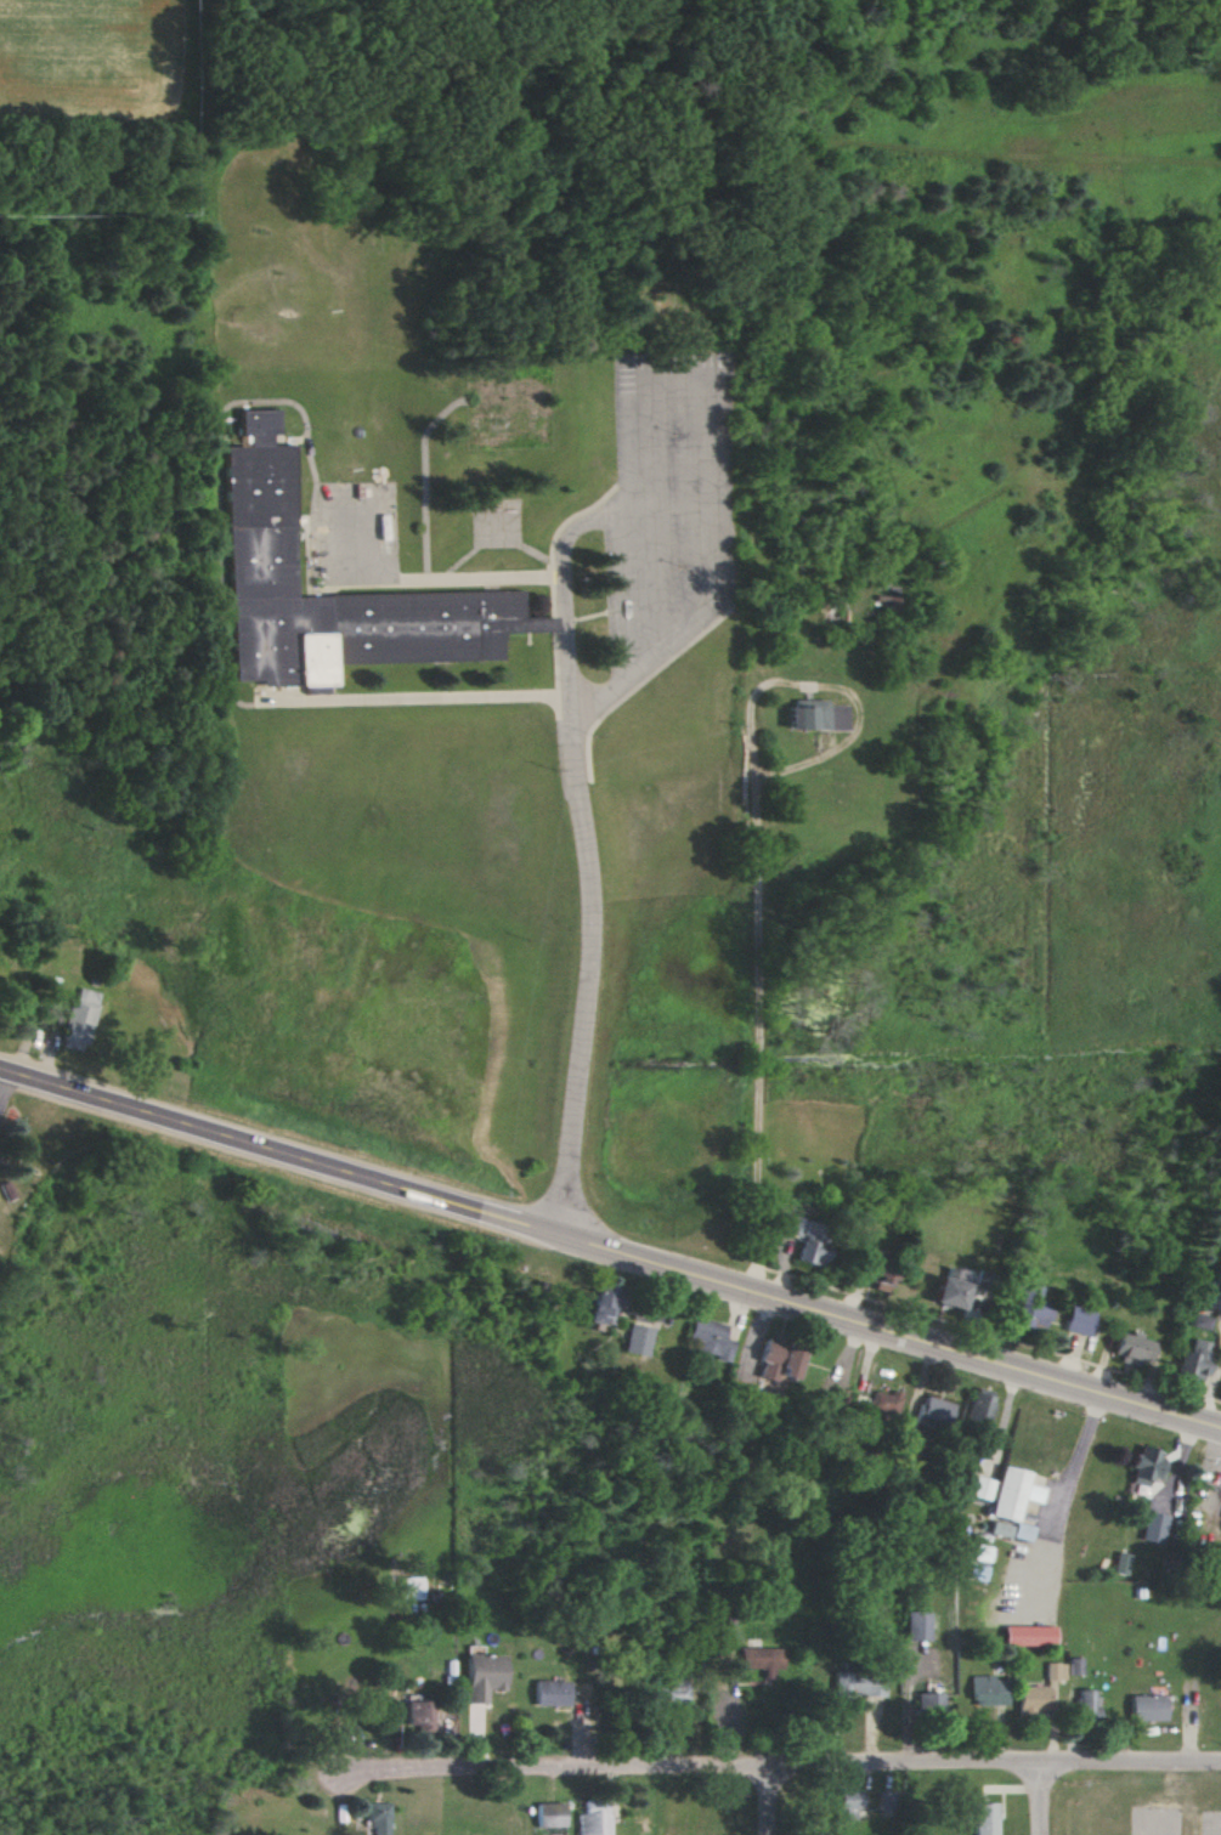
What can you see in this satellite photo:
road: (374, 98)
park: (474, 179)
road: (679, 376)
building: (265, 517)
road: (654, 578)
road: (616, 594)
road: (840, 672)
road: (565, 676)
building: (816, 715)
building: (78, 1021)
road: (763, 1036)
building: (805, 1238)
road: (610, 1250)
road: (757, 1265)
road: (771, 1270)
building: (948, 1292)
building: (605, 1302)
building: (1030, 1309)
building: (1076, 1320)
road: (1000, 1337)
building: (710, 1338)
building: (637, 1340)
building: (1131, 1347)
building: (776, 1359)
building: (883, 1405)
building: (932, 1414)
building: (1146, 1465)
building: (979, 1488)
road: (1068, 1490)
building: (1014, 1491)
building: (1153, 1528)
building: (413, 1587)
building: (917, 1625)
building: (1028, 1635)
building: (763, 1659)
building: (484, 1676)
building: (859, 1683)
building: (673, 1688)
building: (988, 1690)
building: (552, 1693)
building: (1031, 1699)
building: (928, 1705)
building: (1147, 1707)
building: (420, 1712)
road: (773, 1768)
road: (1046, 1800)
road: (776, 1801)
building: (550, 1814)
building: (379, 1818)
building: (594, 1818)
building: (985, 1818)

